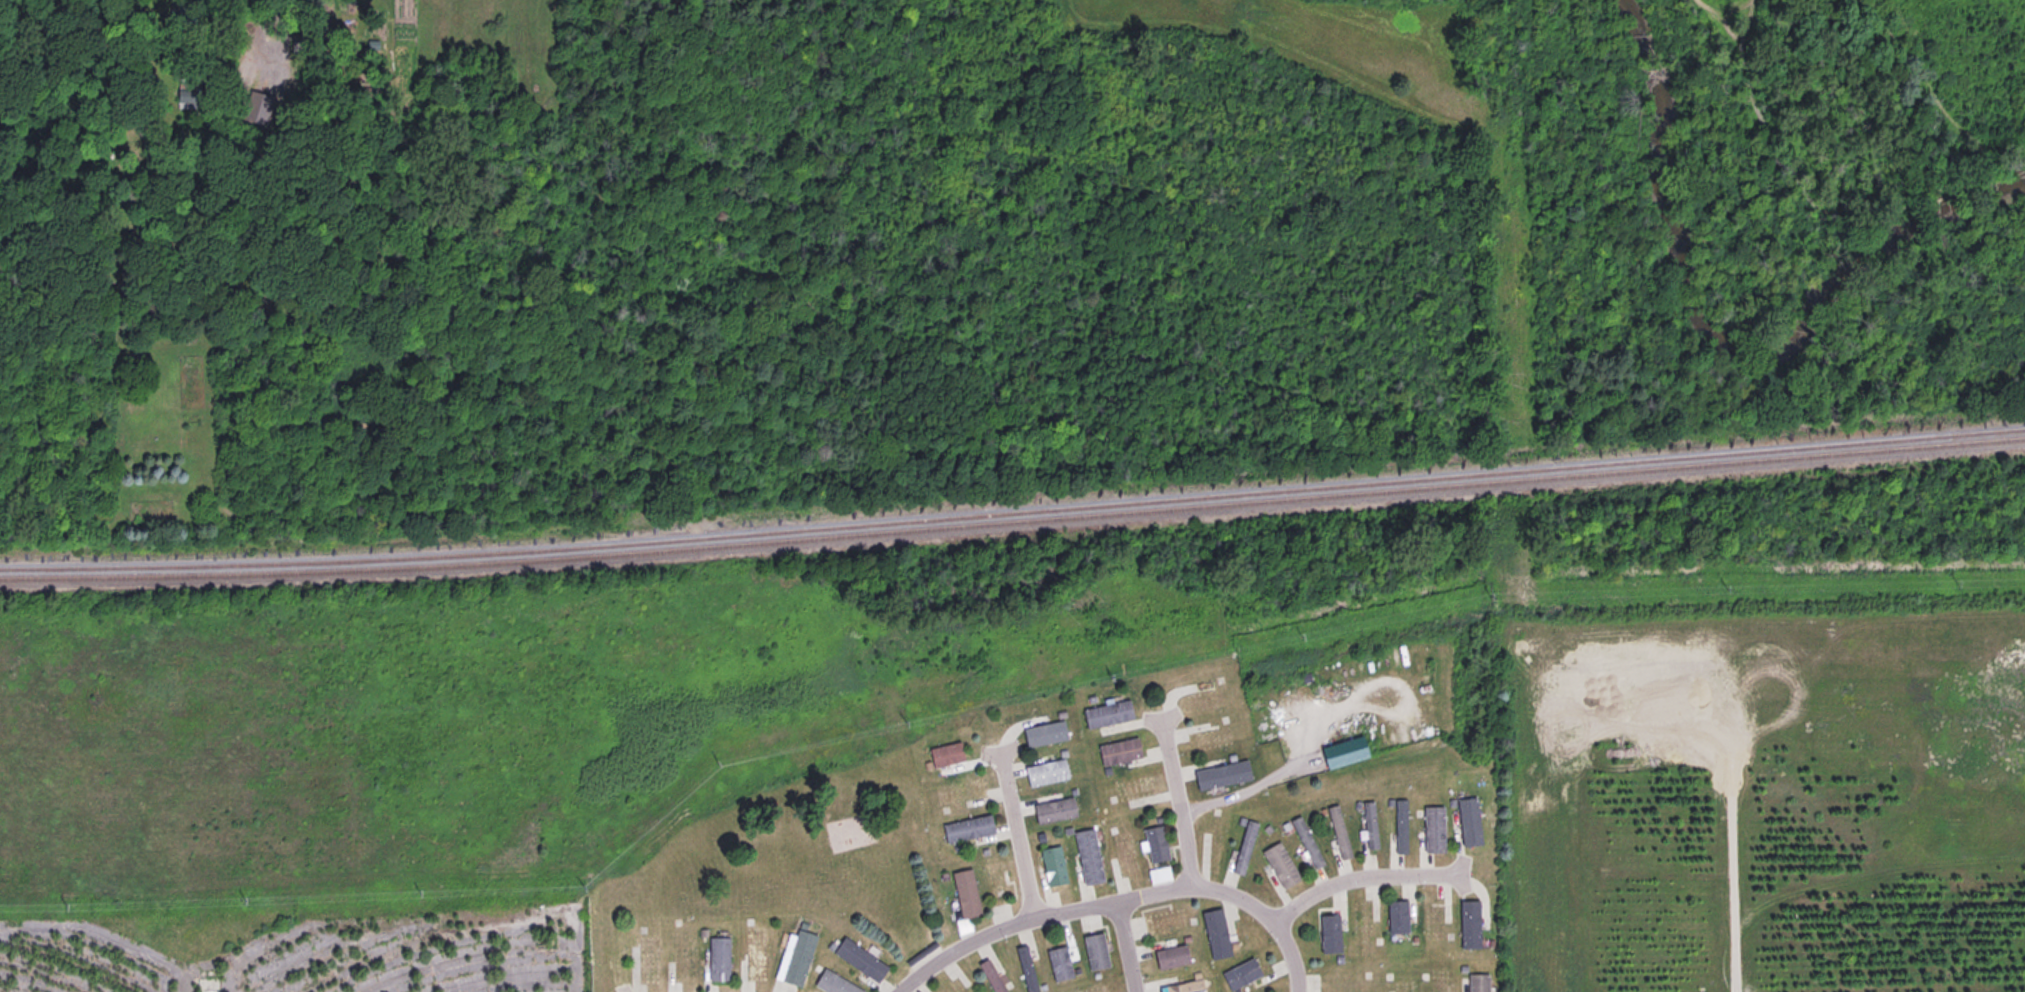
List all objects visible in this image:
building: (186, 95)
building: (256, 108)
railway: (1013, 510)
railway: (1013, 520)
building: (1107, 714)
building: (1344, 752)
building: (945, 755)
building: (1221, 775)
road: (1181, 803)
building: (1468, 822)
building: (967, 829)
road: (1013, 833)
building: (1306, 842)
building: (1155, 844)
building: (1244, 848)
building: (1280, 865)
building: (1158, 875)
road: (1362, 881)
road: (1726, 885)
building: (965, 895)
road: (1117, 901)
building: (1215, 934)
building: (1329, 934)
road: (1118, 947)
building: (1095, 952)
building: (754, 954)
building: (795, 958)
building: (1170, 958)
building: (717, 959)
building: (859, 960)
building: (1060, 963)
building: (1477, 983)
building: (206, 985)
building: (1183, 987)

